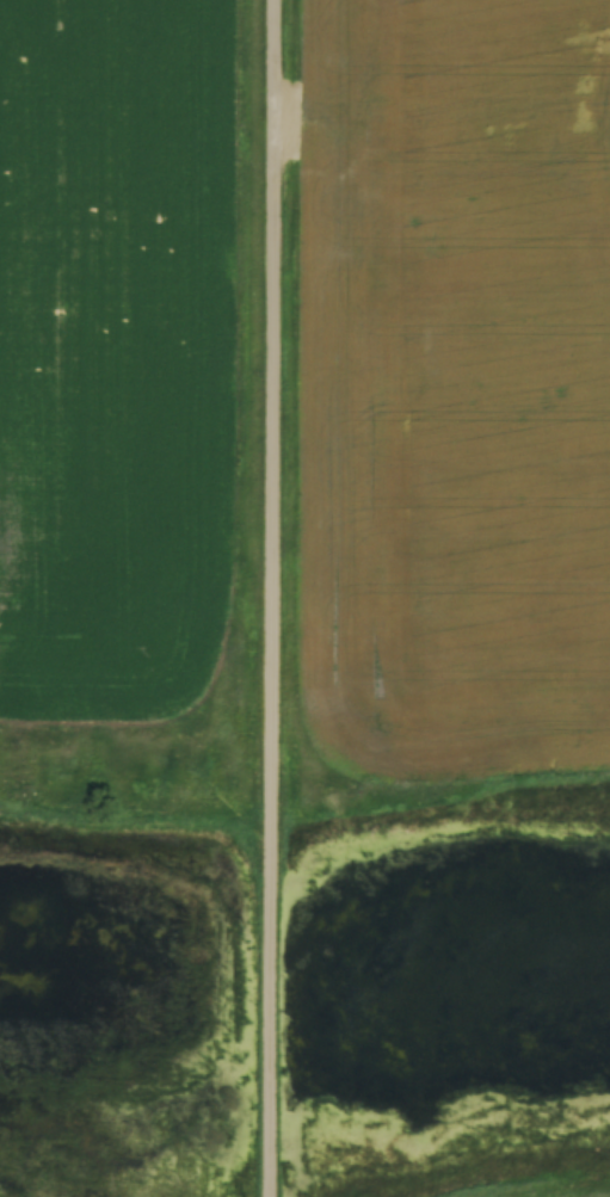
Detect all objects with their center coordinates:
road: (269, 598)

